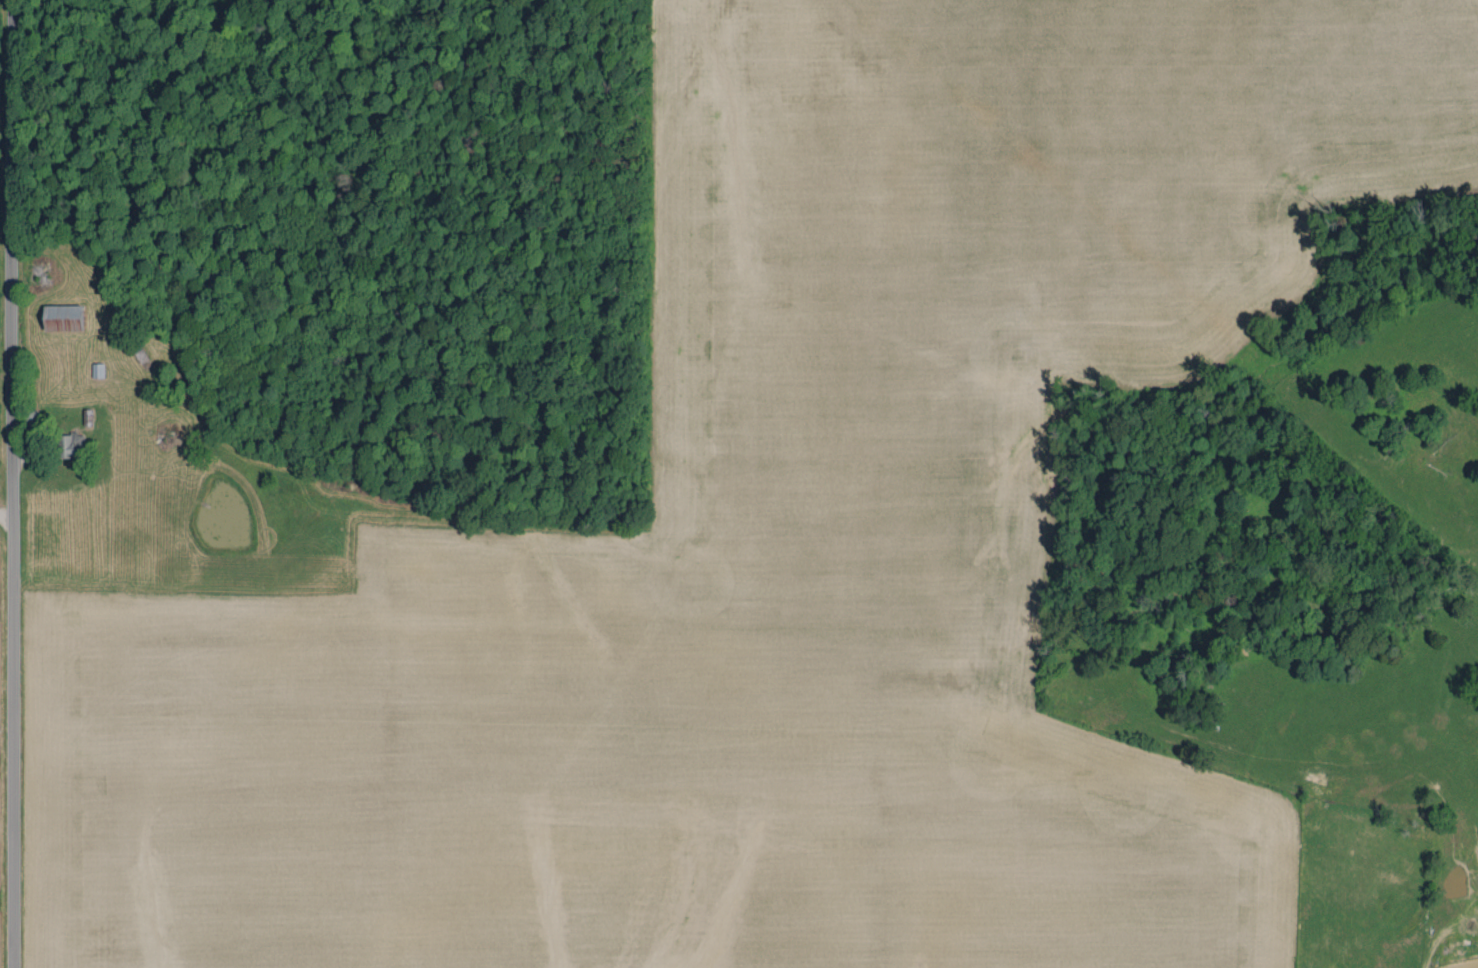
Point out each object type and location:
building: (64, 317)
road: (14, 442)
building: (71, 444)
road: (14, 926)

